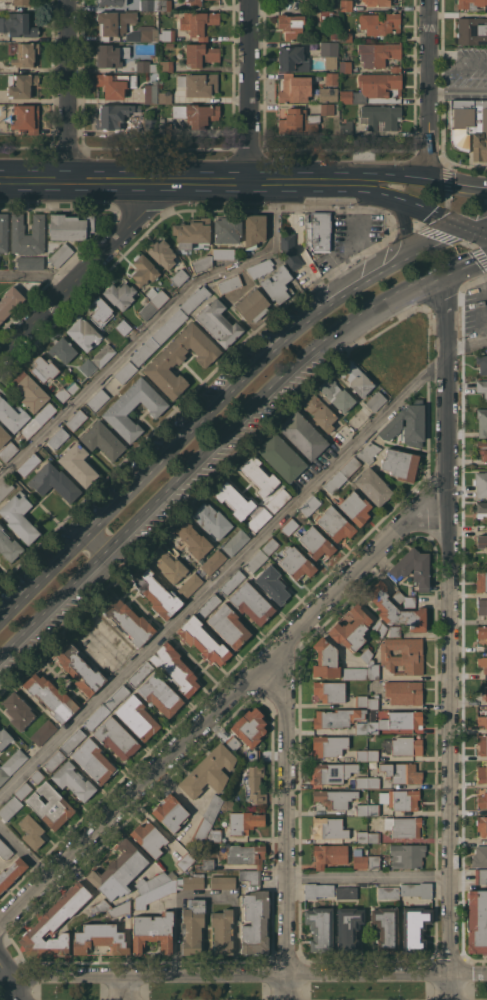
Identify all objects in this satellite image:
building: (21, 2)
building: (112, 2)
building: (310, 2)
building: (376, 2)
building: (193, 3)
building: (470, 3)
building: (149, 4)
building: (165, 5)
building: (346, 5)
building: (329, 16)
building: (113, 23)
building: (198, 23)
building: (380, 23)
building: (17, 24)
building: (290, 25)
building: (472, 30)
building: (143, 33)
building: (333, 33)
building: (166, 35)
building: (346, 36)
building: (329, 53)
building: (378, 53)
building: (25, 54)
building: (113, 54)
building: (200, 54)
building: (292, 58)
road: (457, 63)
building: (146, 66)
building: (165, 66)
building: (345, 66)
building: (395, 68)
building: (331, 79)
building: (198, 83)
building: (115, 84)
building: (21, 85)
building: (372, 87)
building: (150, 88)
building: (294, 88)
road: (457, 88)
road: (427, 89)
road: (66, 90)
road: (246, 90)
building: (328, 94)
road: (457, 95)
building: (164, 97)
building: (329, 109)
building: (197, 114)
building: (114, 115)
building: (380, 116)
building: (26, 118)
building: (298, 121)
building: (150, 126)
building: (469, 126)
building: (346, 127)
building: (165, 128)
road: (456, 166)
road: (390, 175)
traffic signals: (427, 179)
road: (33, 180)
road: (116, 180)
road: (179, 181)
road: (206, 181)
road: (233, 181)
road: (270, 181)
road: (349, 191)
road: (444, 207)
road: (432, 214)
road: (474, 223)
building: (71, 226)
traffic signals: (461, 228)
building: (227, 229)
building: (254, 229)
road: (406, 230)
building: (318, 231)
road: (474, 231)
building: (4, 232)
building: (192, 232)
building: (27, 234)
road: (455, 239)
road: (431, 242)
building: (290, 251)
building: (161, 253)
building: (223, 253)
building: (60, 254)
building: (30, 262)
building: (202, 263)
road: (463, 264)
building: (261, 268)
building: (143, 269)
road: (86, 271)
road: (41, 274)
building: (179, 276)
building: (229, 283)
building: (277, 284)
road: (465, 284)
building: (119, 294)
building: (157, 296)
building: (195, 299)
building: (9, 301)
building: (252, 305)
building: (147, 310)
building: (100, 311)
building: (218, 323)
building: (123, 326)
road: (152, 327)
building: (83, 333)
building: (158, 337)
building: (62, 349)
building: (103, 354)
building: (180, 359)
building: (481, 363)
building: (87, 367)
building: (43, 368)
building: (125, 372)
building: (356, 378)
building: (482, 388)
building: (65, 391)
building: (31, 392)
building: (336, 394)
building: (97, 399)
building: (375, 401)
building: (120, 407)
building: (319, 411)
building: (45, 413)
building: (12, 415)
building: (76, 419)
building: (482, 421)
building: (406, 424)
road: (192, 427)
building: (30, 428)
building: (3, 435)
building: (303, 435)
building: (57, 438)
building: (102, 439)
road: (207, 448)
building: (481, 448)
building: (8, 450)
building: (368, 452)
building: (281, 456)
building: (77, 464)
building: (400, 464)
building: (28, 465)
building: (349, 466)
building: (259, 475)
building: (53, 481)
building: (335, 481)
building: (481, 484)
building: (373, 486)
building: (5, 488)
building: (233, 500)
building: (278, 500)
road: (37, 505)
building: (310, 505)
building: (355, 507)
building: (481, 507)
building: (19, 517)
building: (211, 519)
building: (258, 519)
building: (335, 523)
building: (289, 526)
road: (98, 539)
building: (193, 540)
building: (481, 541)
building: (235, 542)
building: (316, 543)
building: (9, 546)
building: (270, 546)
road: (237, 559)
building: (256, 560)
building: (213, 561)
building: (296, 562)
building: (168, 564)
building: (400, 568)
building: (481, 581)
building: (232, 582)
building: (272, 584)
building: (189, 585)
building: (156, 592)
building: (403, 599)
building: (251, 603)
building: (208, 606)
building: (482, 607)
building: (395, 609)
building: (128, 620)
building: (228, 626)
building: (379, 628)
building: (351, 629)
road: (161, 630)
building: (394, 630)
building: (481, 631)
road: (446, 637)
building: (203, 640)
building: (366, 655)
building: (402, 655)
building: (325, 660)
building: (482, 663)
building: (79, 668)
building: (175, 668)
building: (373, 670)
building: (355, 673)
building: (139, 674)
building: (330, 690)
building: (404, 692)
building: (485, 692)
building: (160, 694)
building: (50, 697)
building: (117, 698)
building: (361, 700)
building: (373, 702)
road: (219, 707)
building: (17, 710)
building: (97, 717)
building: (137, 717)
building: (337, 717)
building: (404, 718)
building: (482, 720)
building: (249, 726)
building: (361, 727)
building: (373, 727)
building: (43, 732)
building: (116, 737)
building: (5, 738)
building: (72, 740)
building: (232, 742)
building: (482, 743)
building: (329, 745)
building: (406, 745)
building: (252, 754)
building: (372, 754)
building: (362, 755)
building: (54, 760)
building: (93, 760)
building: (14, 761)
building: (209, 771)
building: (332, 772)
building: (401, 772)
building: (482, 773)
building: (3, 775)
building: (37, 776)
building: (73, 780)
building: (361, 781)
building: (373, 781)
building: (253, 783)
building: (23, 790)
building: (334, 798)
building: (400, 799)
building: (482, 800)
building: (228, 803)
building: (50, 805)
building: (10, 807)
building: (213, 807)
building: (362, 809)
building: (373, 809)
building: (170, 812)
building: (244, 821)
road: (285, 821)
building: (482, 825)
building: (403, 826)
building: (329, 827)
building: (202, 830)
building: (31, 831)
building: (214, 835)
building: (361, 836)
building: (149, 837)
building: (374, 837)
building: (5, 850)
building: (245, 854)
building: (329, 854)
building: (407, 855)
road: (21, 856)
building: (479, 856)
building: (359, 858)
building: (185, 860)
building: (373, 861)
building: (207, 863)
building: (118, 870)
building: (11, 872)
road: (367, 874)
building: (172, 875)
building: (250, 876)
building: (480, 876)
building: (190, 881)
building: (152, 882)
building: (222, 882)
building: (417, 889)
building: (317, 890)
building: (345, 892)
building: (387, 892)
building: (154, 894)
road: (229, 894)
building: (100, 906)
building: (119, 909)
building: (477, 921)
building: (255, 922)
building: (54, 923)
building: (193, 925)
building: (348, 927)
building: (320, 928)
building: (414, 928)
building: (385, 929)
building: (152, 931)
building: (222, 931)
road: (176, 935)
building: (99, 938)
road: (246, 972)
road: (6, 979)
park: (3, 984)
road: (127, 987)

